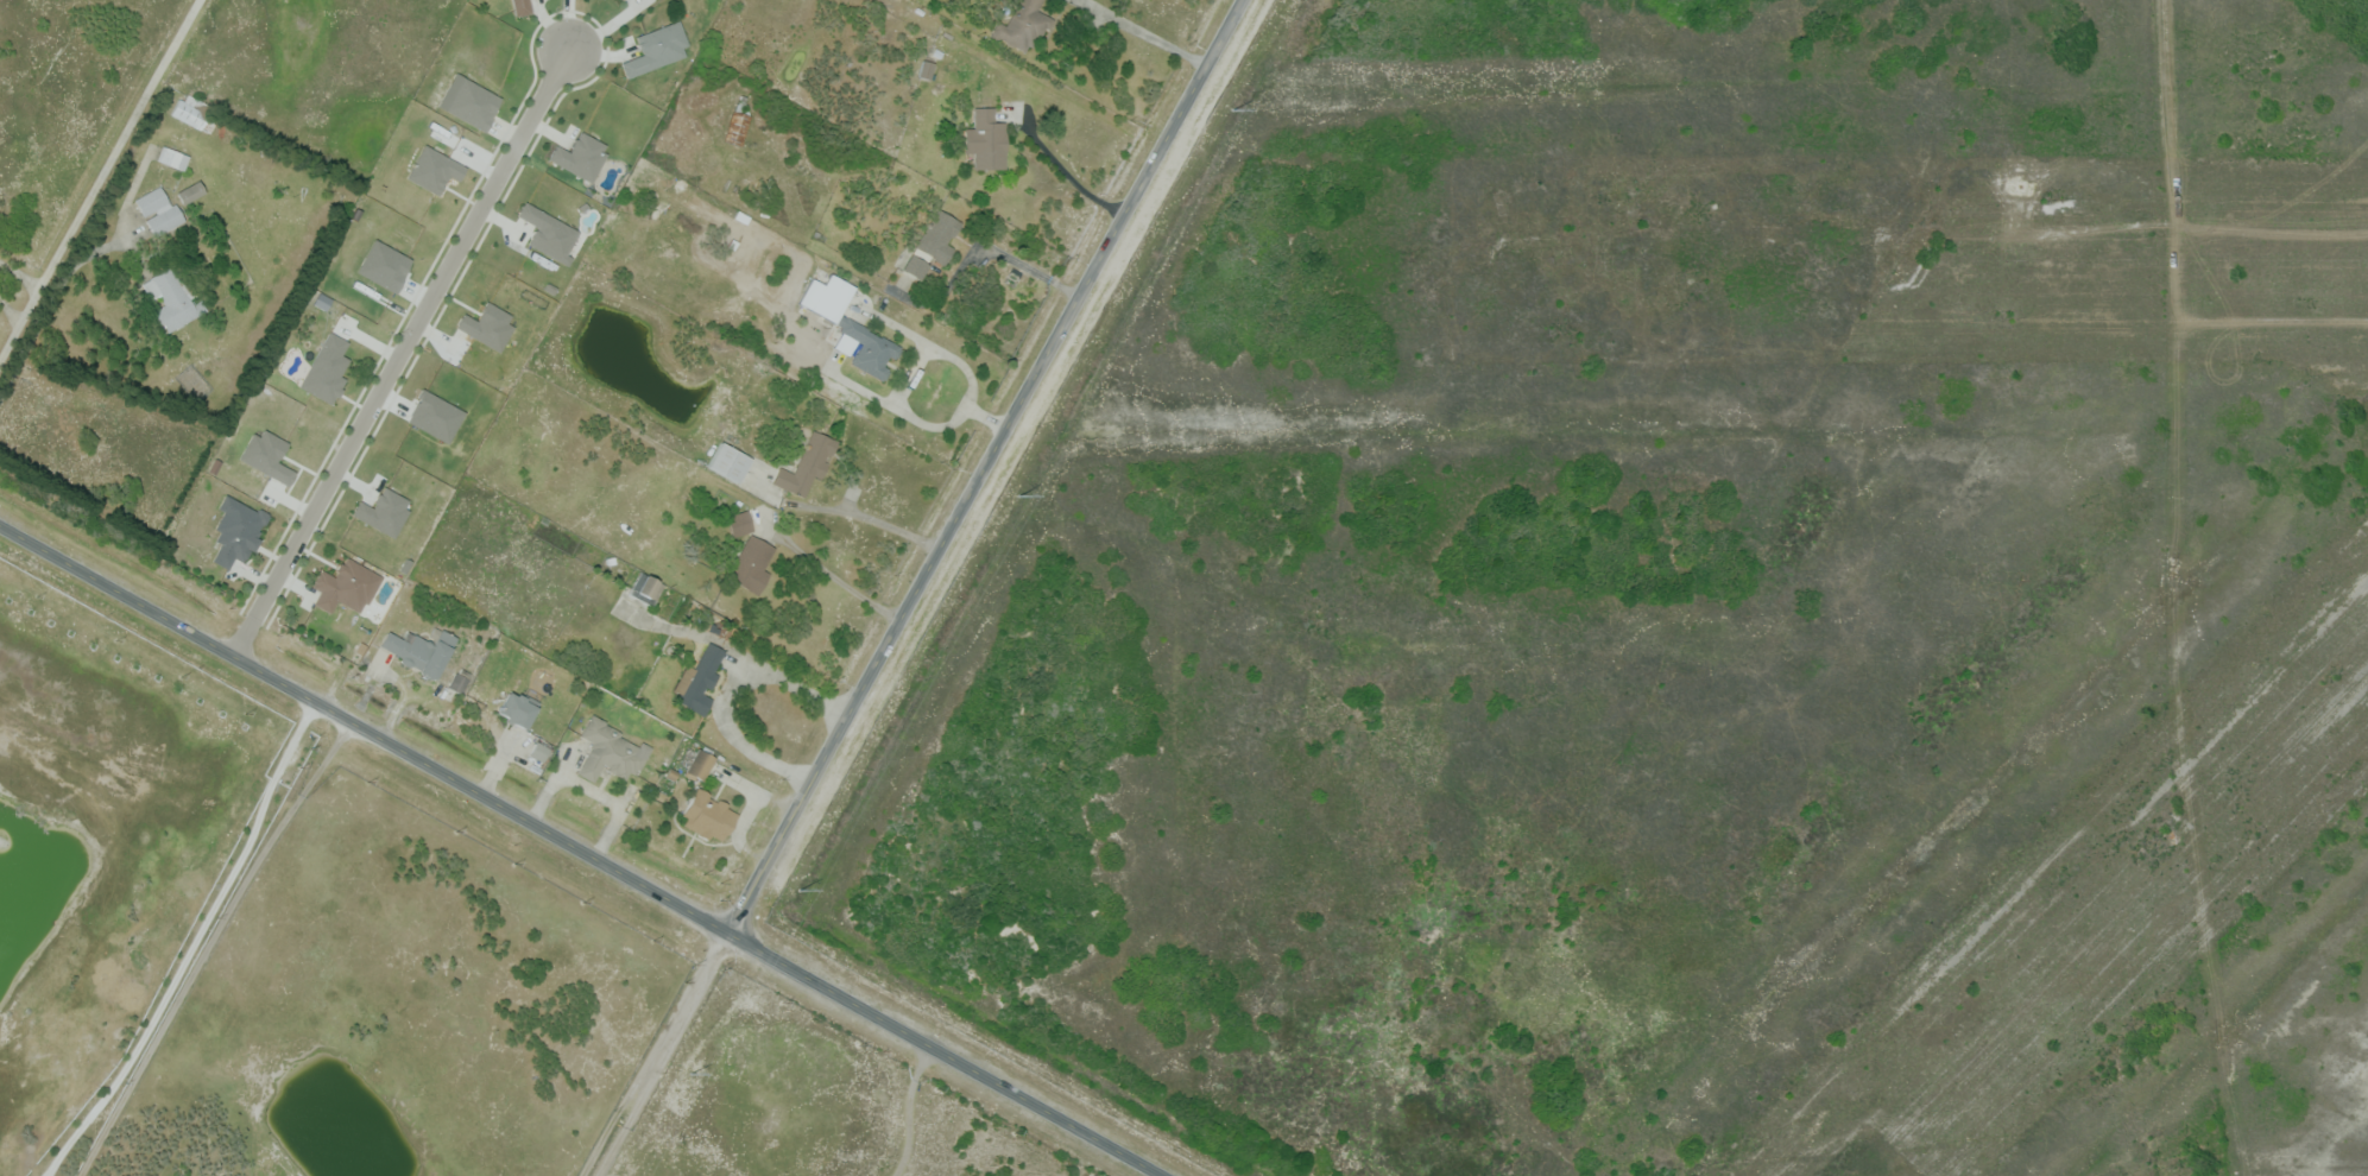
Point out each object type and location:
building: (623, 0)
building: (520, 7)
building: (645, 14)
building: (1024, 25)
building: (656, 49)
building: (927, 69)
building: (472, 103)
building: (191, 113)
building: (739, 122)
building: (987, 139)
building: (580, 156)
building: (172, 158)
building: (432, 170)
road: (95, 173)
building: (190, 192)
building: (159, 210)
building: (548, 233)
building: (930, 246)
road: (45, 296)
building: (172, 301)
building: (487, 325)
building: (851, 327)
road: (399, 349)
building: (728, 462)
building: (807, 463)
road: (984, 466)
building: (740, 523)
building: (235, 531)
building: (751, 565)
building: (345, 586)
building: (646, 589)
airport: (1681, 611)
building: (419, 650)
building: (700, 679)
building: (457, 682)
road: (724, 685)
building: (517, 709)
building: (538, 751)
building: (611, 751)
building: (700, 764)
building: (709, 815)
road: (581, 851)
road: (657, 1055)
road: (911, 1109)
road: (623, 1130)

